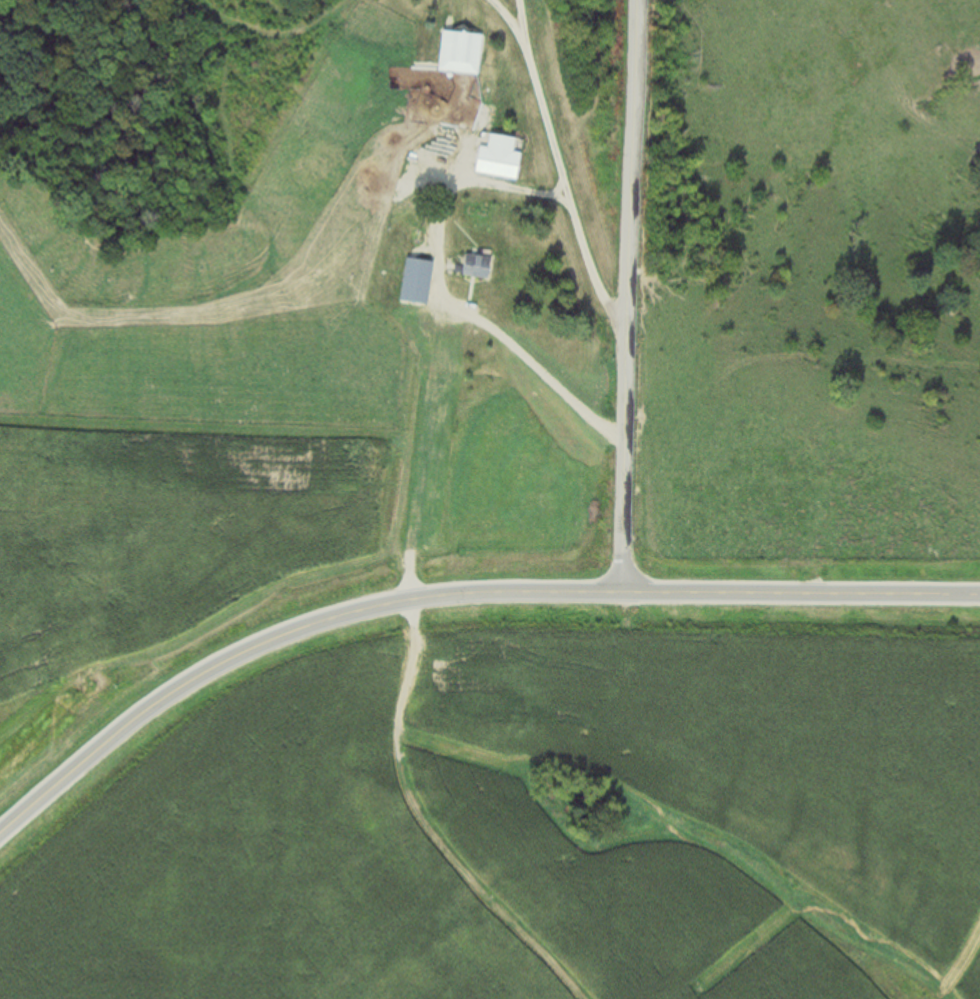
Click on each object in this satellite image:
building: (457, 53)
building: (495, 162)
road: (566, 172)
building: (472, 266)
building: (413, 281)
road: (623, 295)
road: (434, 324)
road: (458, 592)

